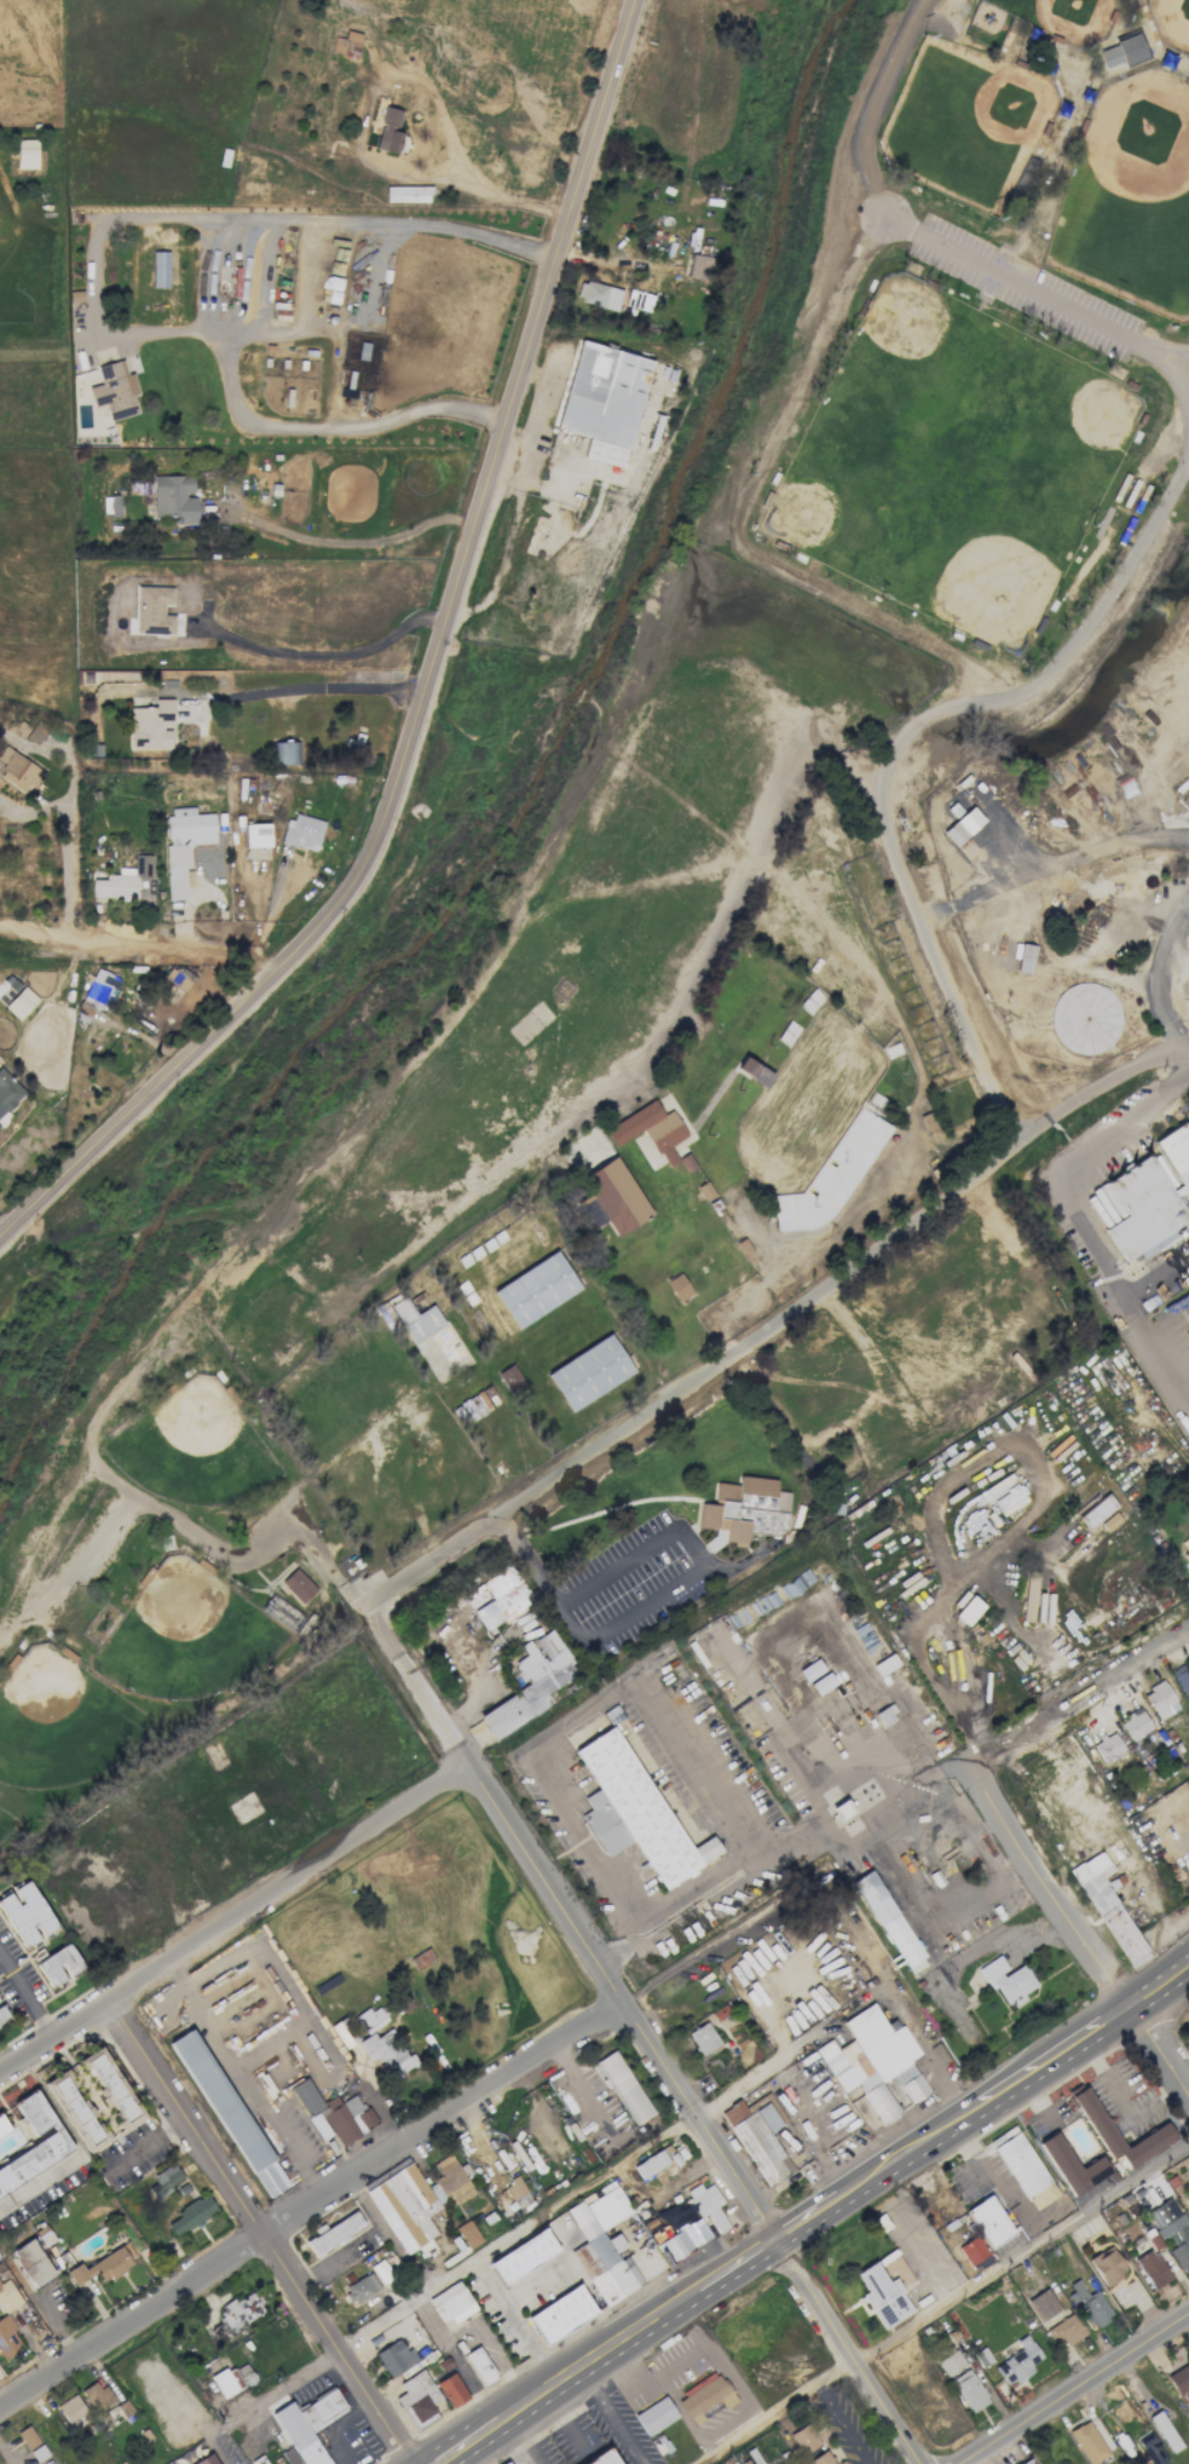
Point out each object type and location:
park: (1068, 15)
park: (1171, 21)
building: (346, 45)
building: (1120, 52)
road: (870, 104)
park: (962, 121)
building: (388, 131)
building: (25, 152)
park: (1129, 191)
building: (698, 266)
road: (94, 267)
building: (160, 269)
road: (213, 286)
parking lot: (1026, 287)
road: (261, 292)
building: (598, 294)
road: (1033, 294)
park: (922, 339)
building: (115, 390)
building: (604, 399)
park: (1086, 416)
building: (174, 497)
park: (831, 500)
building: (112, 505)
park: (983, 565)
building: (154, 610)
road: (322, 652)
road: (427, 684)
road: (308, 687)
building: (151, 725)
building: (29, 730)
road: (899, 741)
building: (962, 825)
building: (302, 831)
building: (256, 835)
building: (184, 844)
road: (1057, 857)
road: (68, 868)
building: (128, 882)
park: (631, 925)
road: (139, 942)
building: (1024, 958)
road: (1152, 969)
building: (178, 977)
building: (98, 985)
building: (19, 1002)
building: (1085, 1018)
building: (752, 1071)
building: (7, 1092)
building: (650, 1130)
building: (1176, 1152)
building: (686, 1162)
building: (614, 1196)
building: (1139, 1209)
building: (589, 1211)
road: (1085, 1224)
road: (4, 1227)
building: (677, 1286)
building: (535, 1289)
road: (791, 1316)
building: (414, 1318)
building: (589, 1372)
building: (510, 1377)
building: (745, 1509)
building: (1101, 1514)
building: (1187, 1555)
building: (298, 1585)
road: (665, 1595)
building: (1028, 1596)
building: (502, 1597)
building: (968, 1610)
road: (919, 1643)
building: (810, 1670)
building: (1182, 1679)
building: (531, 1683)
building: (820, 1685)
road: (1079, 1691)
road: (663, 1697)
building: (1160, 1699)
building: (1136, 1723)
building: (1107, 1745)
road: (490, 1795)
building: (634, 1812)
road: (871, 1821)
building: (1106, 1902)
building: (24, 1913)
road: (236, 1921)
building: (889, 1922)
road: (1078, 1930)
road: (959, 1948)
road: (694, 1957)
building: (421, 1958)
building: (57, 1964)
building: (1008, 1981)
road: (1158, 1985)
road: (850, 1997)
road: (27, 1998)
road: (627, 2002)
building: (2, 2015)
building: (370, 2019)
building: (1185, 2031)
building: (344, 2032)
building: (703, 2038)
building: (387, 2054)
building: (875, 2061)
road: (1047, 2065)
building: (109, 2084)
building: (623, 2088)
road: (1121, 2100)
building: (334, 2111)
building: (74, 2112)
building: (229, 2113)
building: (318, 2125)
building: (2, 2126)
building: (50, 2143)
building: (1149, 2146)
road: (900, 2160)
building: (650, 2164)
building: (1024, 2171)
road: (41, 2174)
building: (166, 2177)
building: (514, 2188)
building: (416, 2199)
road: (311, 2203)
building: (708, 2204)
building: (190, 2215)
building: (1168, 2220)
building: (989, 2221)
road: (804, 2222)
road: (262, 2233)
building: (334, 2233)
building: (467, 2234)
road: (772, 2234)
building: (677, 2236)
road: (904, 2238)
building: (605, 2241)
parking lot: (919, 2245)
building: (971, 2250)
building: (1181, 2255)
building: (523, 2256)
building: (31, 2262)
building: (1106, 2264)
building: (102, 2266)
road: (737, 2268)
building: (1152, 2268)
road: (456, 2274)
building: (360, 2289)
building: (7, 2296)
building: (882, 2296)
road: (940, 2301)
building: (451, 2302)
building: (1043, 2304)
building: (1090, 2304)
building: (241, 2309)
building: (561, 2314)
road: (516, 2324)
road: (57, 2328)
building: (1063, 2331)
building: (6, 2337)
road: (631, 2337)
building: (982, 2356)
building: (396, 2358)
building: (1017, 2361)
building: (950, 2362)
building: (480, 2365)
building: (232, 2378)
building: (1179, 2378)
road: (1074, 2388)
building: (450, 2390)
building: (968, 2390)
building: (94, 2395)
building: (417, 2396)
building: (704, 2396)
road: (529, 2405)
building: (70, 2408)
road: (198, 2410)
building: (654, 2416)
road: (565, 2417)
road: (611, 2418)
road: (843, 2422)
building: (308, 2424)
parking lot: (852, 2428)
building: (1164, 2431)
building: (27, 2436)
building: (804, 2440)
road: (524, 2441)
building: (1087, 2442)
road: (466, 2447)
building: (1150, 2448)
building: (289, 2456)
building: (602, 2458)
building: (821, 2458)
building: (206, 2460)
building: (258, 2460)
building: (1026, 2462)
building: (167, 2463)

